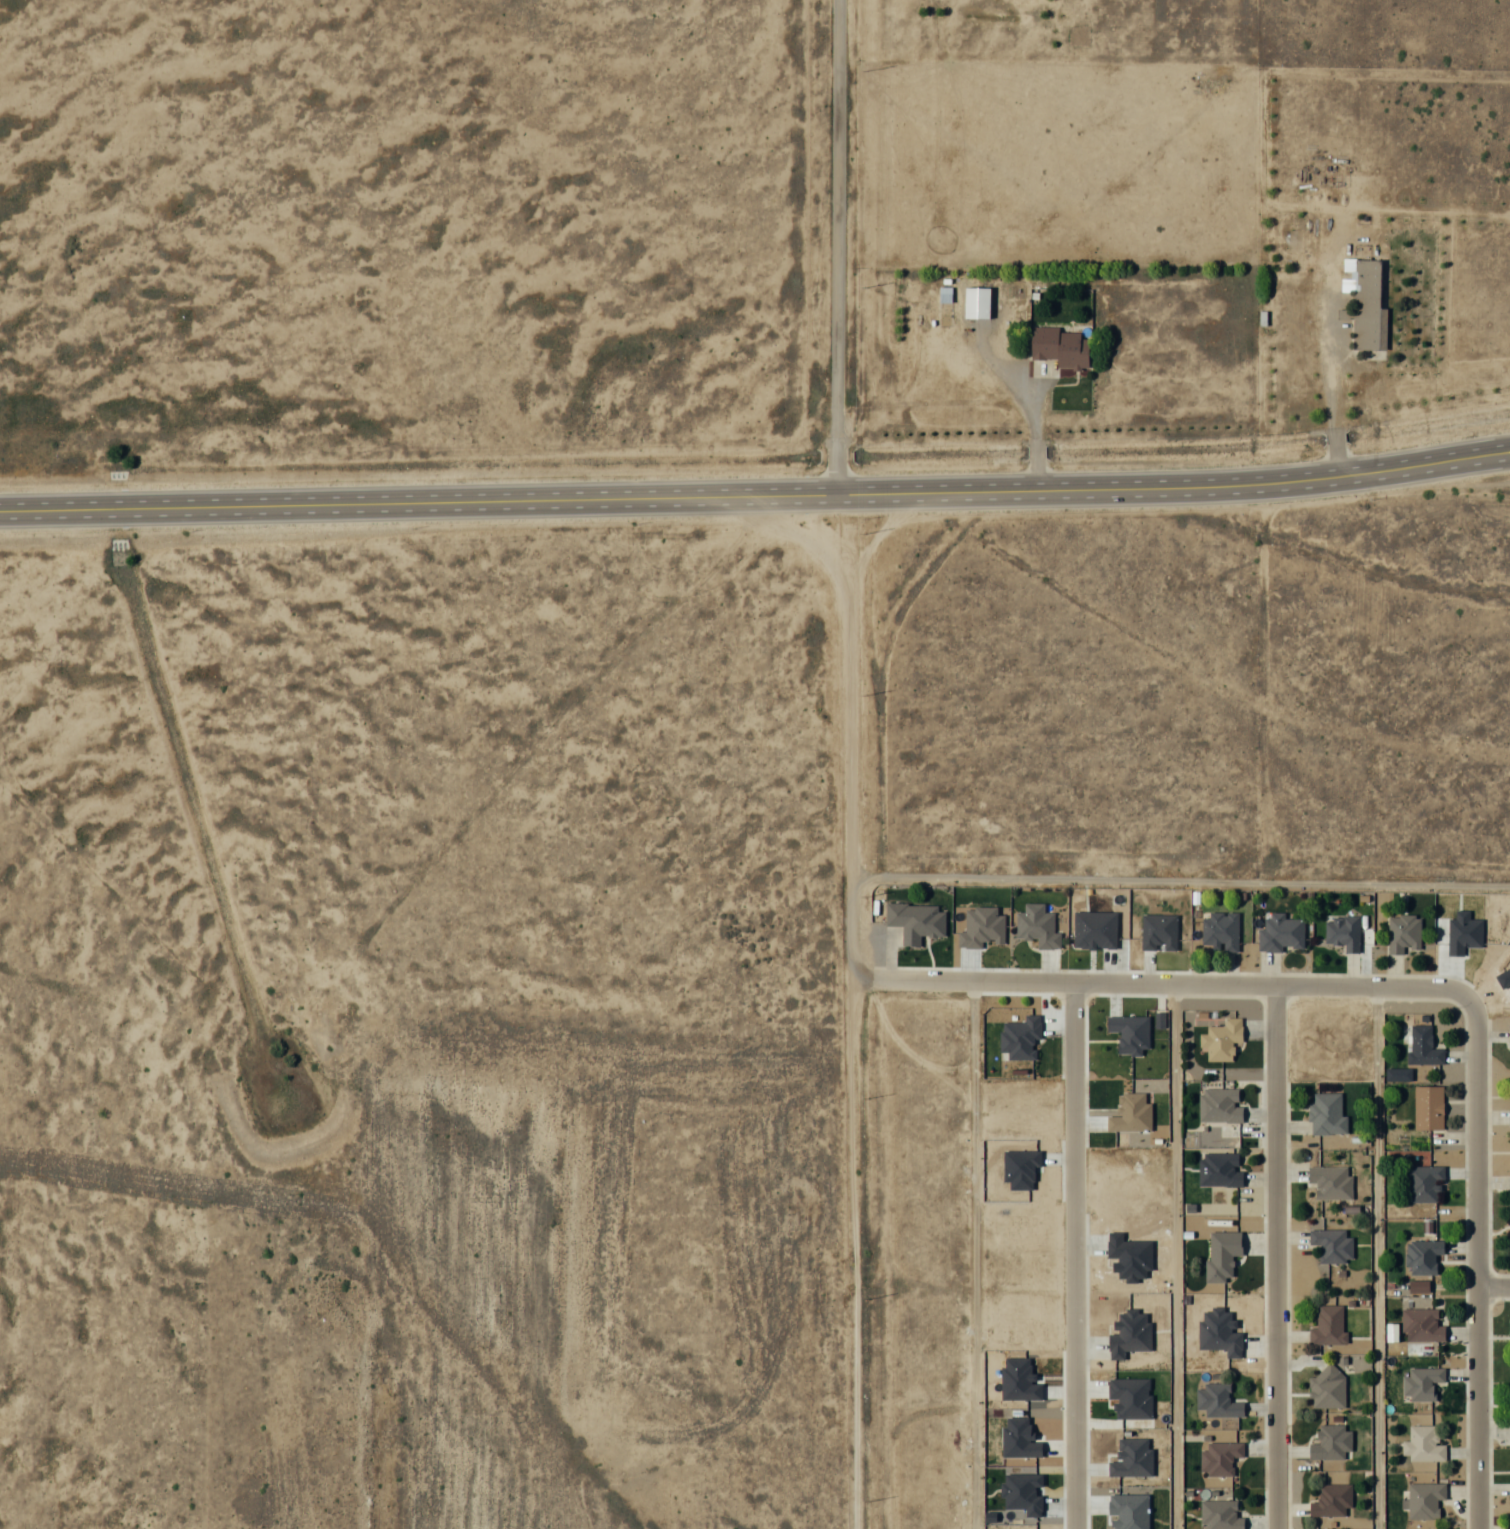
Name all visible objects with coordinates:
road: (835, 240)
building: (976, 302)
building: (1368, 306)
building: (1059, 347)
road: (1331, 355)
road: (998, 371)
road: (1039, 389)
road: (1033, 426)
road: (1334, 439)
road: (1034, 445)
road: (1336, 462)
road: (1034, 467)
road: (755, 483)
power tower: (865, 494)
building: (1343, 932)
building: (1281, 933)
building: (1402, 933)
road: (1172, 983)
building: (1509, 1037)
building: (1221, 1040)
building: (1423, 1046)
building: (1219, 1106)
building: (1428, 1108)
building: (1326, 1115)
building: (1509, 1117)
building: (1509, 1166)
building: (1331, 1182)
building: (1422, 1183)
building: (1332, 1245)
road: (974, 1255)
road: (1073, 1255)
road: (1174, 1256)
road: (1274, 1257)
road: (1376, 1257)
building: (1422, 1257)
road: (1475, 1264)
road: (1493, 1287)
building: (1420, 1325)
building: (1327, 1326)
building: (1420, 1383)
building: (1327, 1387)
building: (1217, 1400)
building: (1331, 1443)
building: (1423, 1444)
building: (1219, 1457)
building: (1424, 1499)
building: (1331, 1500)
building: (1220, 1515)

